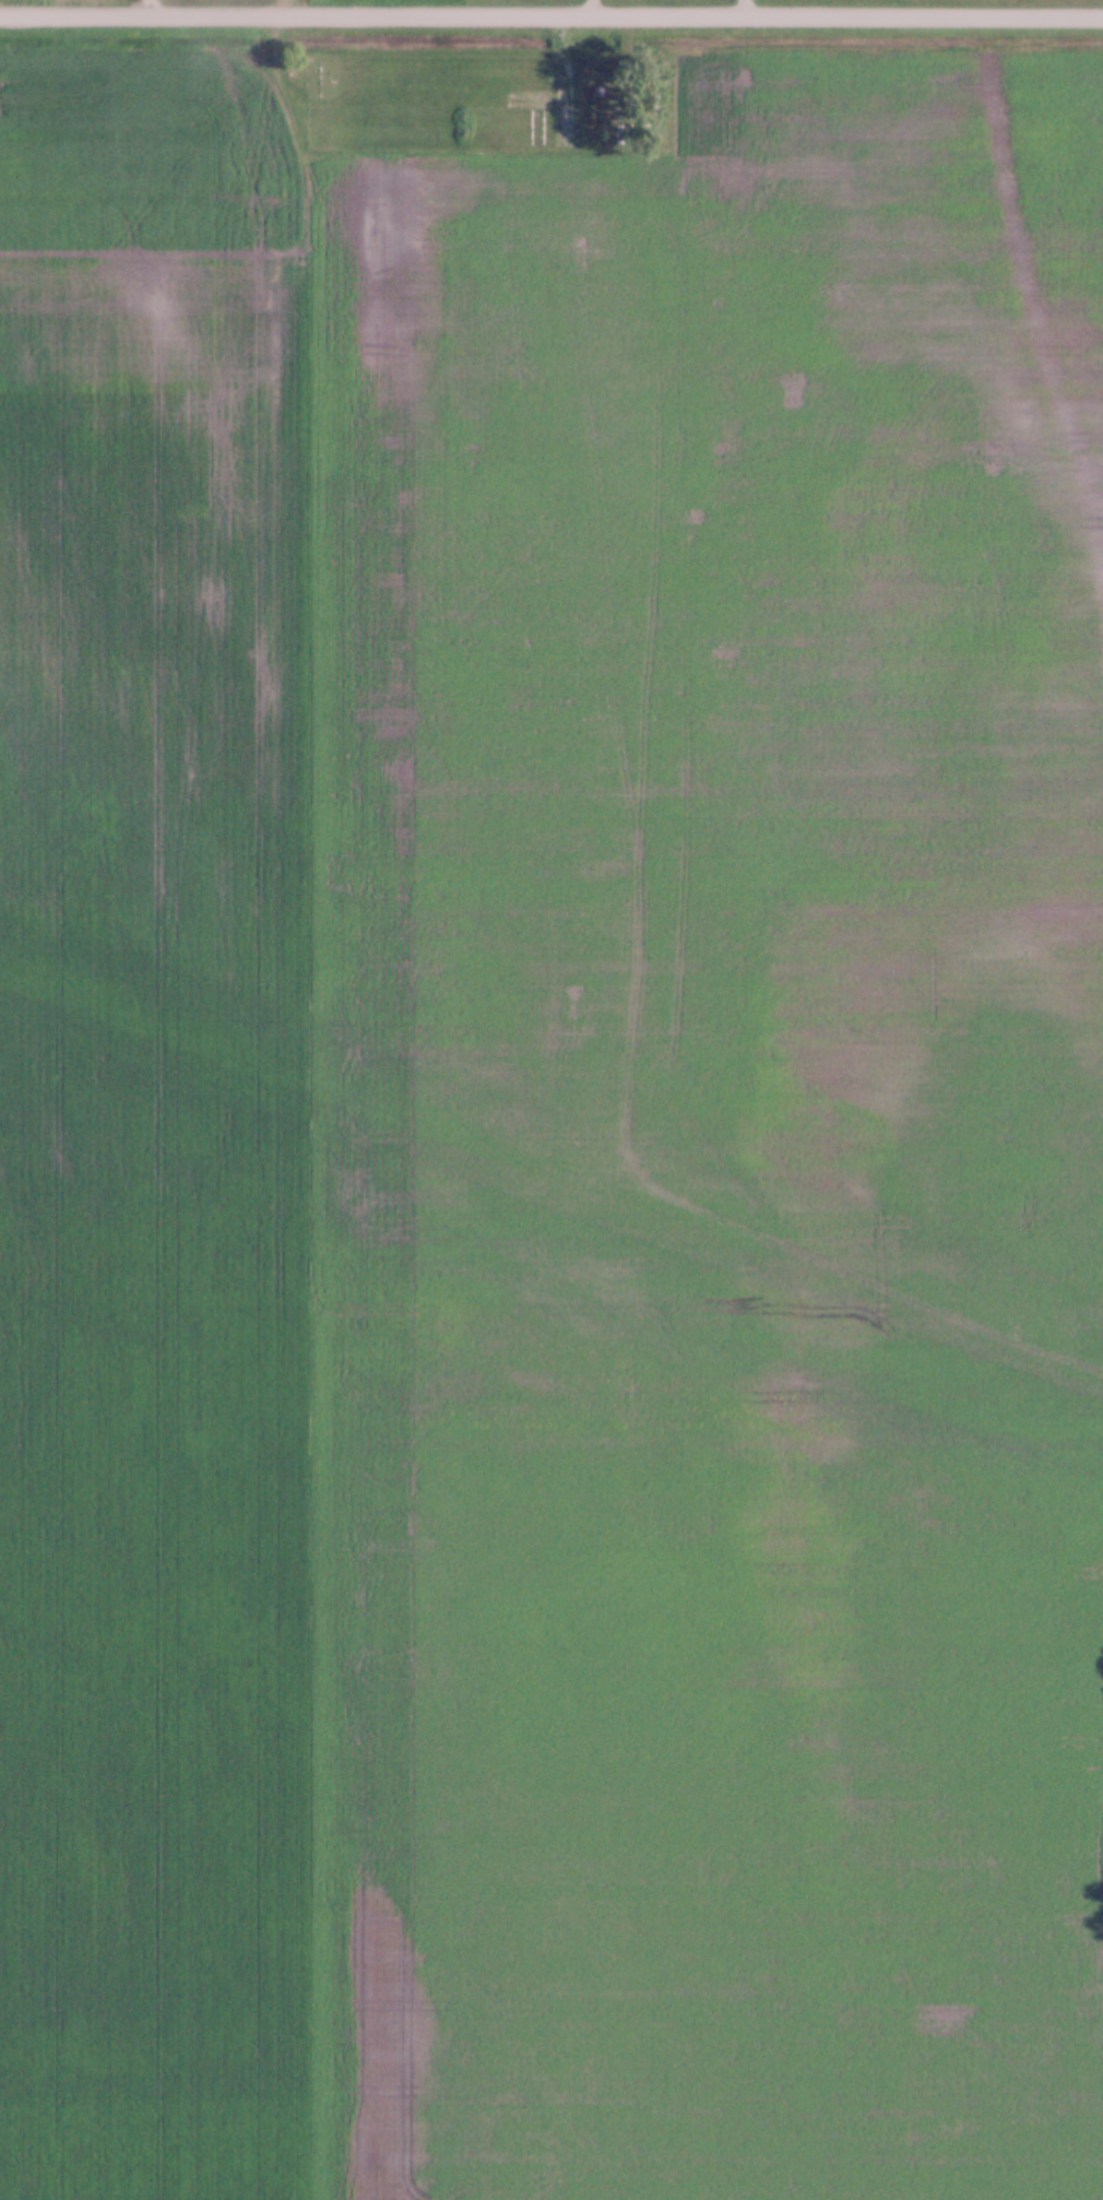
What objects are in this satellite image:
park: (38, 127)
park: (484, 140)

